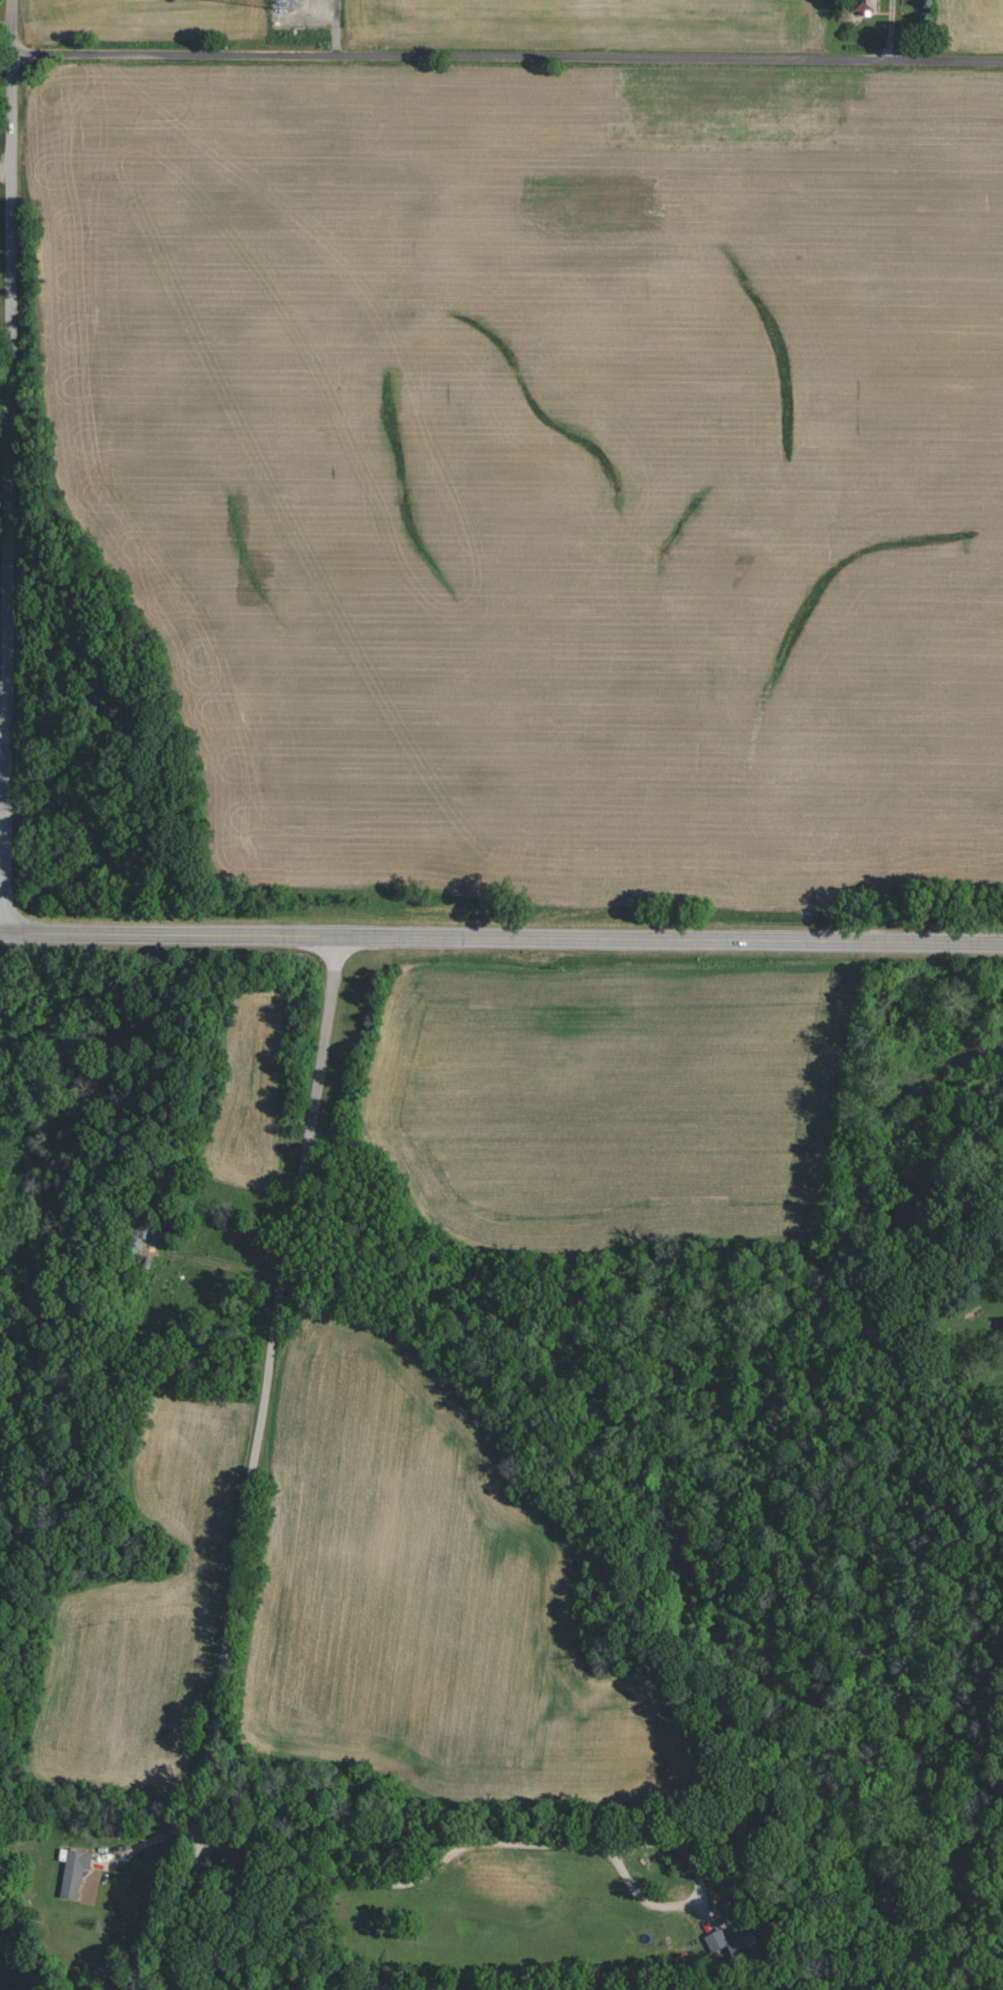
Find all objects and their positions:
road: (6, 2)
building: (864, 4)
road: (507, 56)
road: (9, 467)
road: (501, 938)
road: (266, 1389)
road: (464, 1845)
building: (74, 1872)
road: (186, 1916)
building: (733, 1946)

